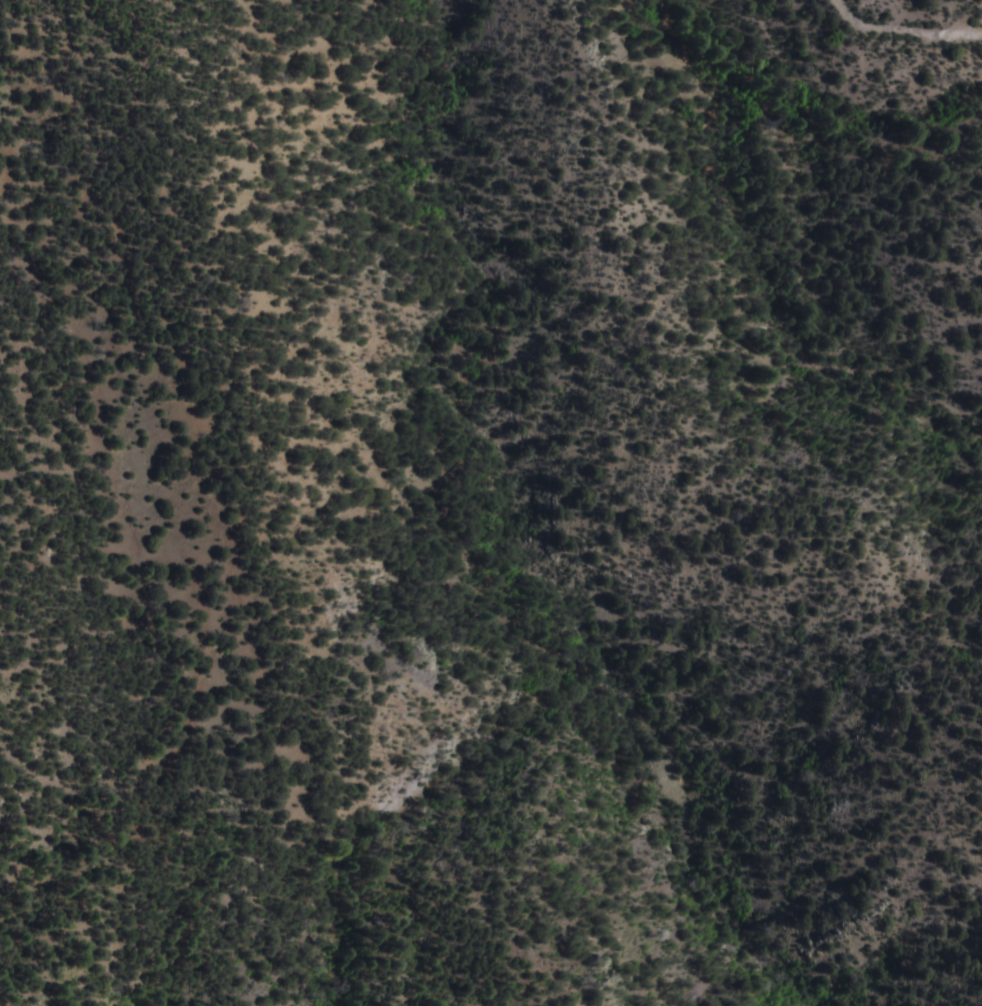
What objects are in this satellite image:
road: (931, 18)

